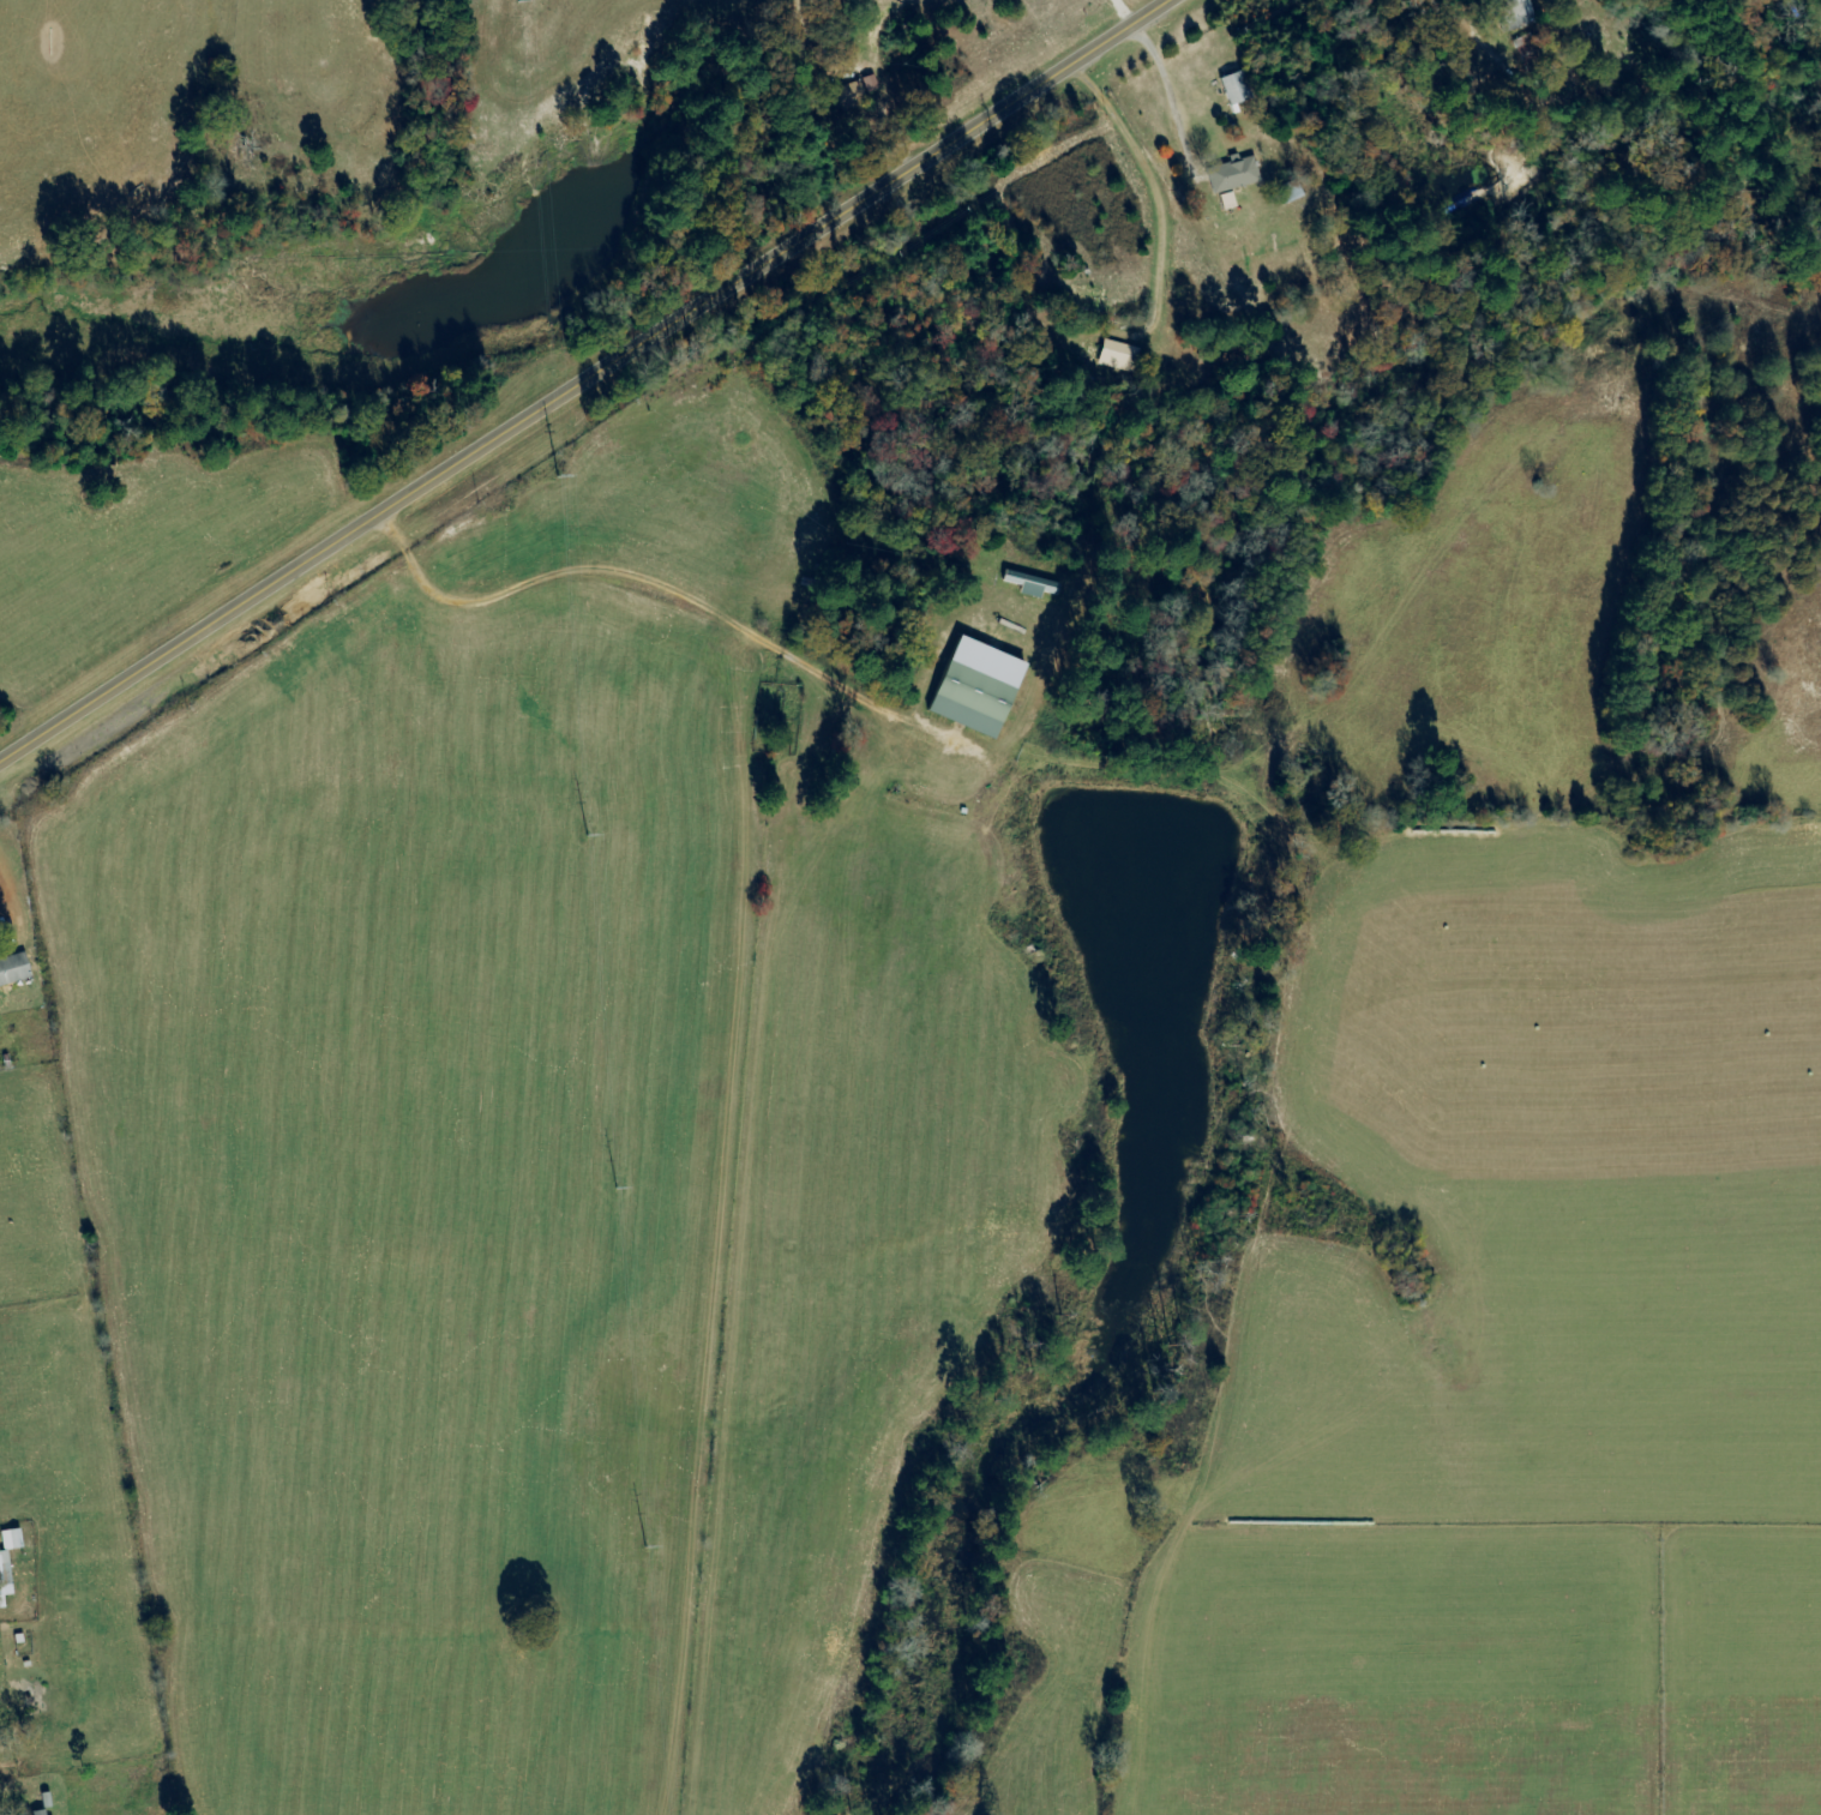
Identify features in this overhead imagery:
building: (1512, 13)
building: (1233, 89)
road: (1208, 167)
building: (1230, 175)
building: (1117, 356)
road: (581, 377)
building: (1029, 585)
building: (974, 689)
building: (12, 969)
building: (4, 1573)
building: (36, 1813)

